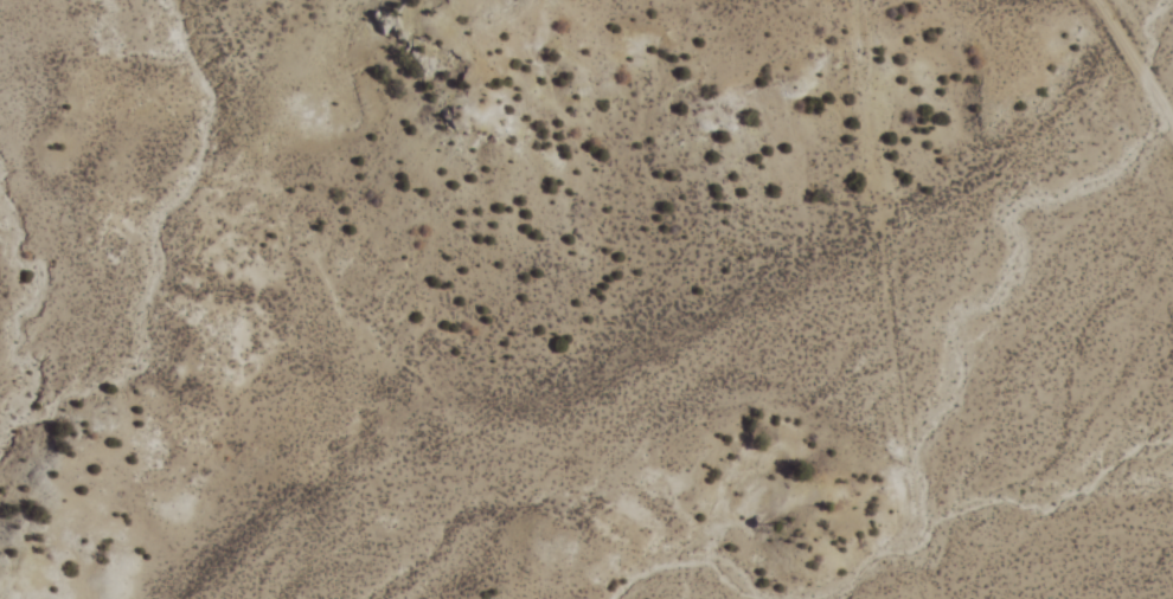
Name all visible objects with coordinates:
road: (1084, 79)

